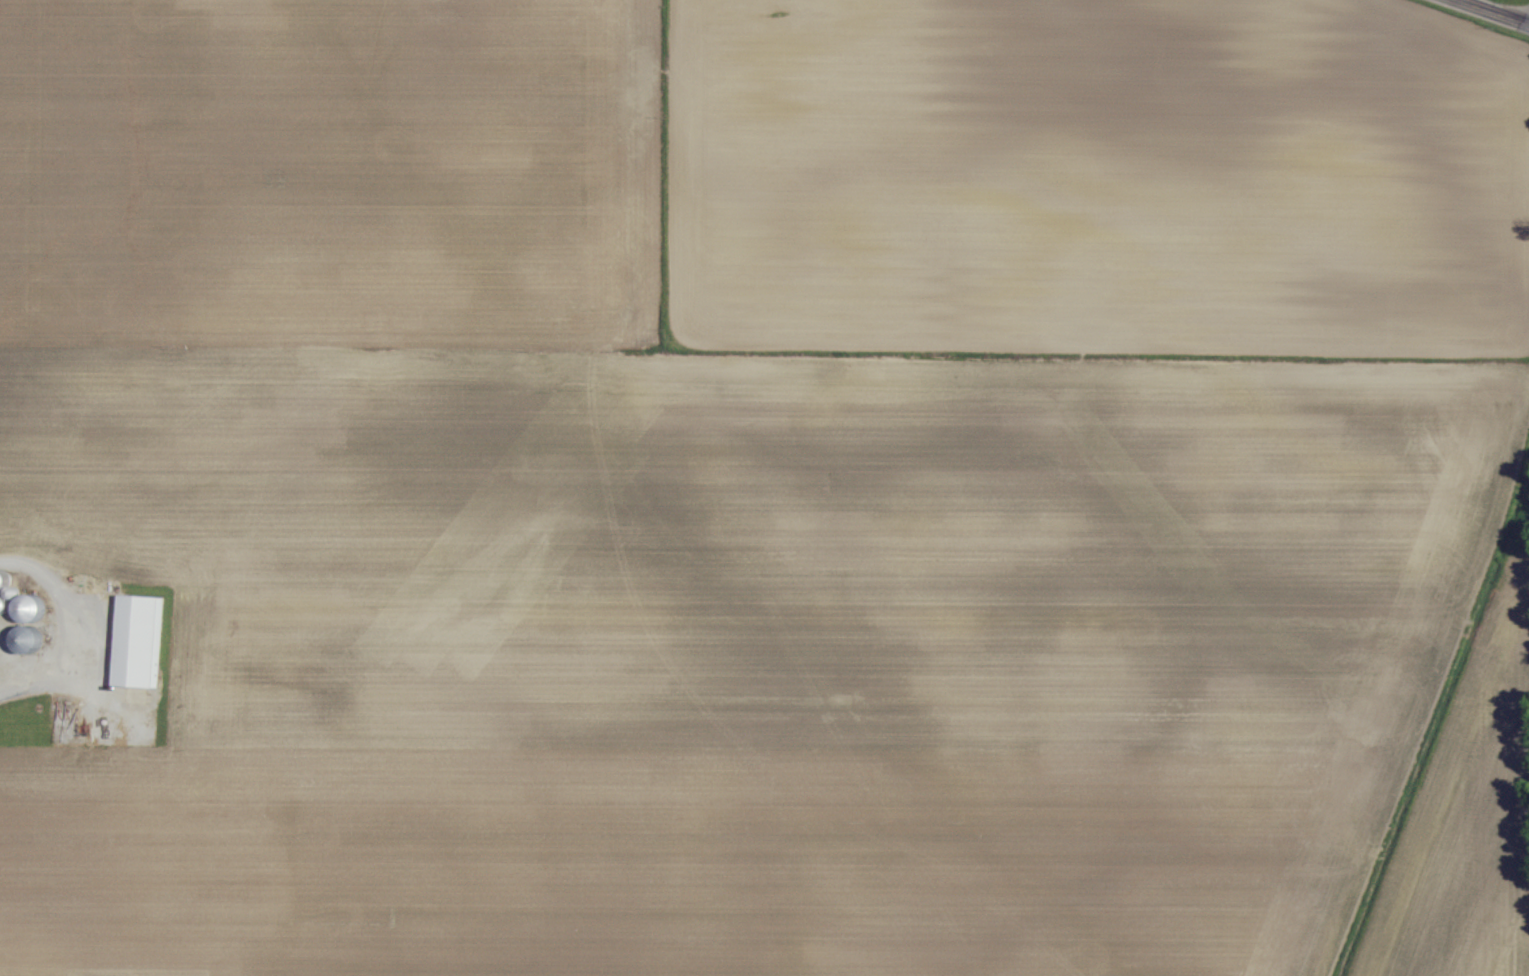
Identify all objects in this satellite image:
road: (1498, 10)
road: (78, 635)
building: (140, 640)

